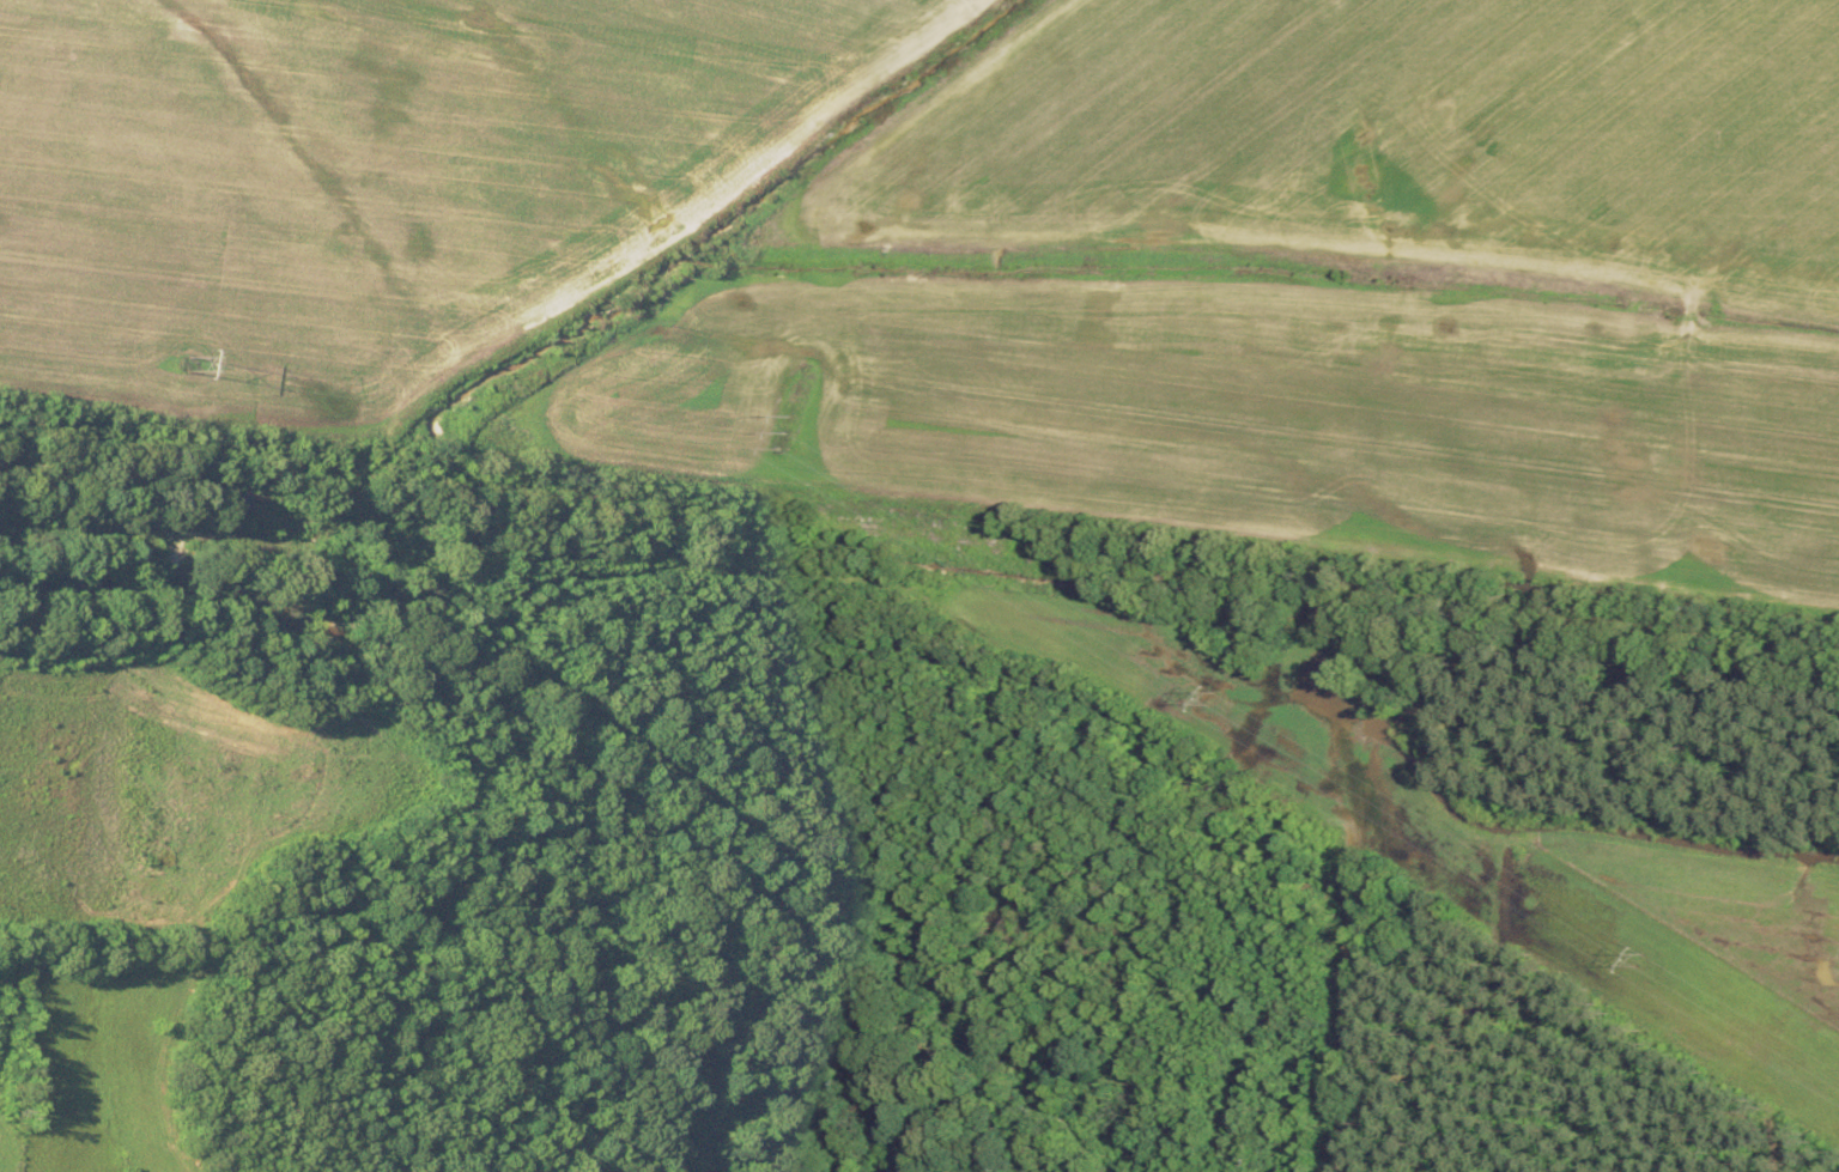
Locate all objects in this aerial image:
power tower: (188, 362)
power tower: (789, 433)
railway: (919, 533)
power tower: (1213, 698)
power tower: (1637, 955)

